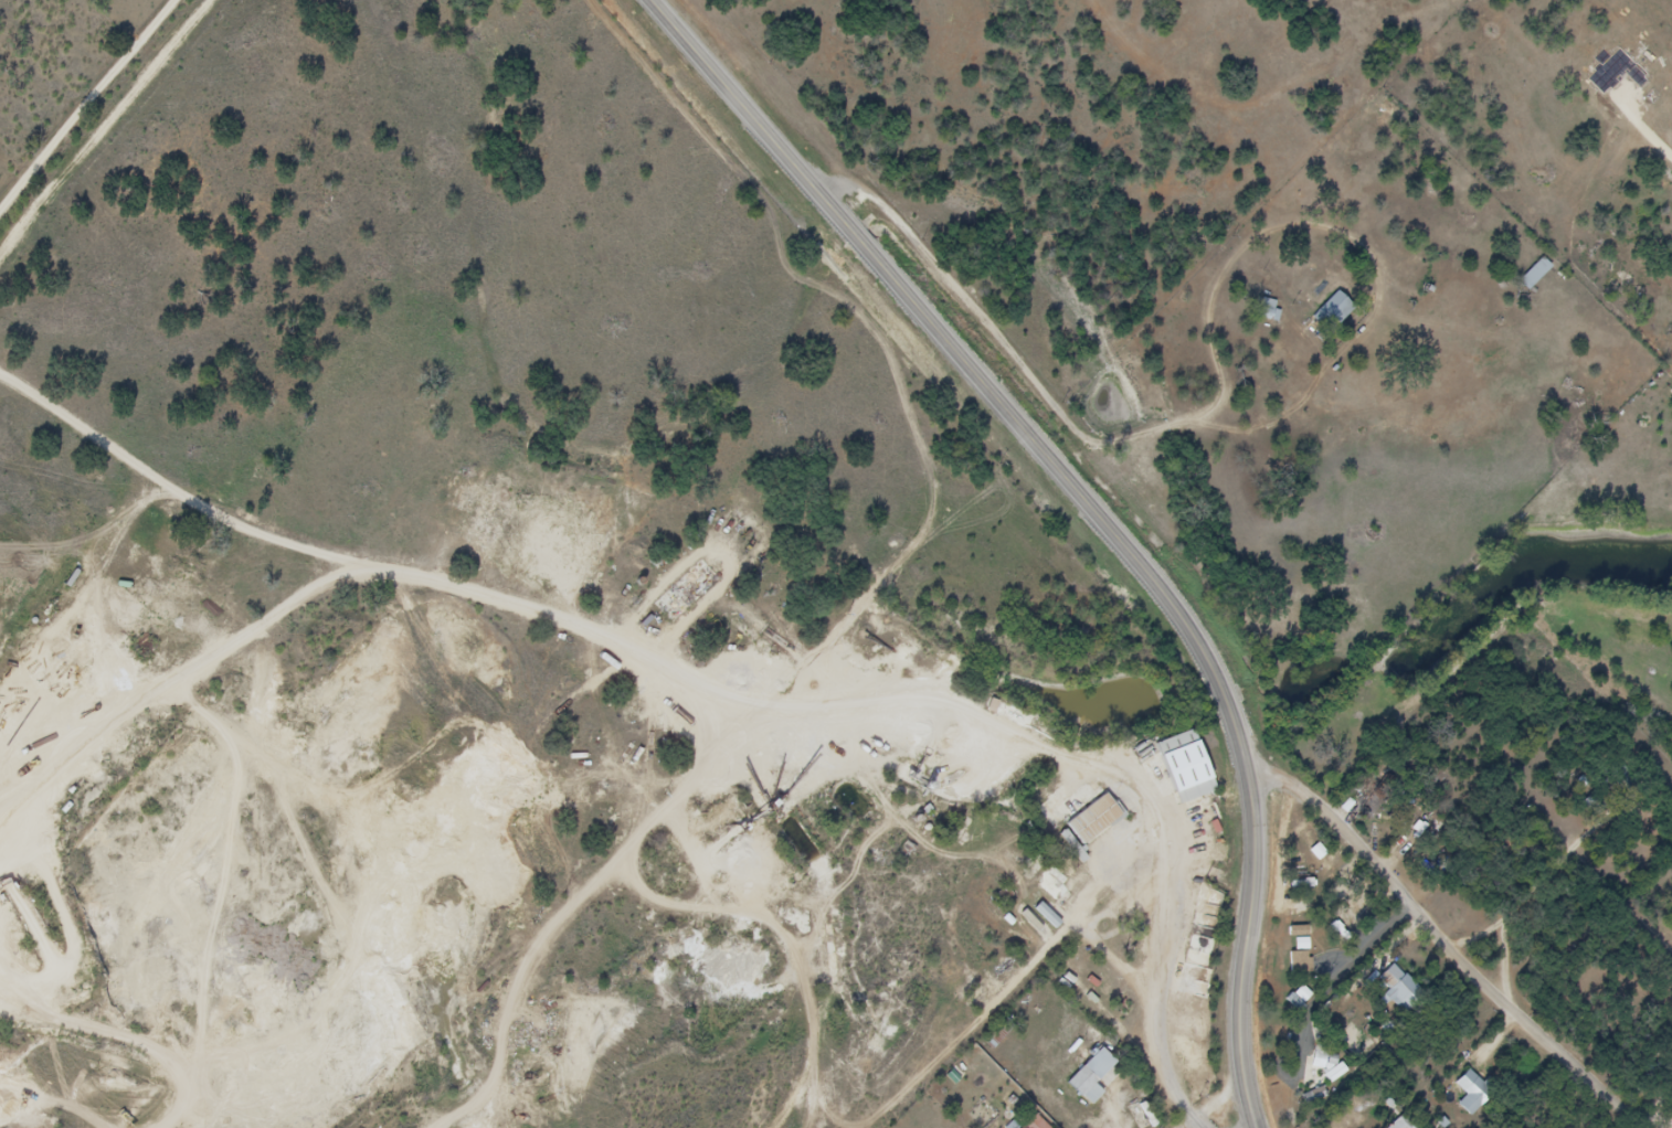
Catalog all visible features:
road: (87, 106)
road: (751, 108)
building: (1535, 275)
building: (1269, 310)
building: (1333, 313)
road: (1186, 618)
road: (871, 705)
building: (1196, 773)
building: (1378, 805)
building: (1103, 826)
building: (1299, 932)
road: (1449, 933)
road: (1397, 934)
building: (1302, 962)
building: (1406, 992)
building: (1331, 1065)
building: (1091, 1077)
building: (1103, 1083)
building: (1483, 1100)
building: (1045, 1125)

